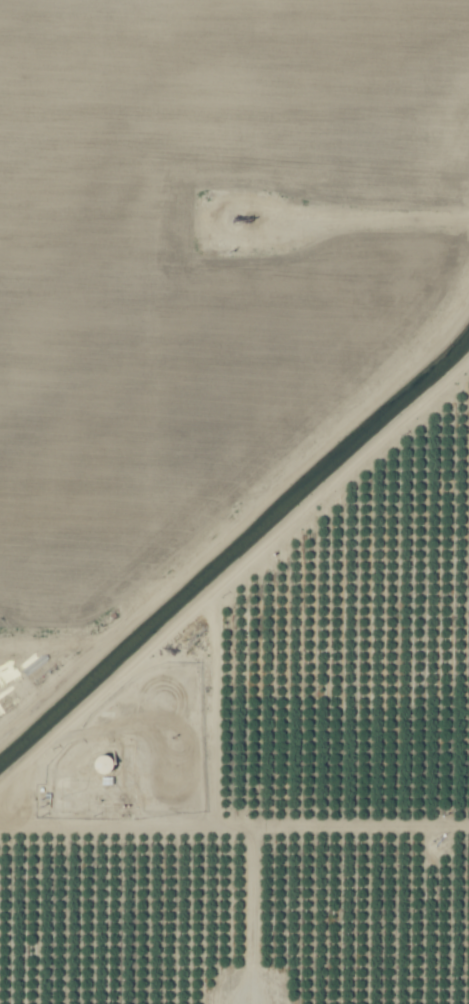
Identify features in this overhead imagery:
road: (342, 827)

